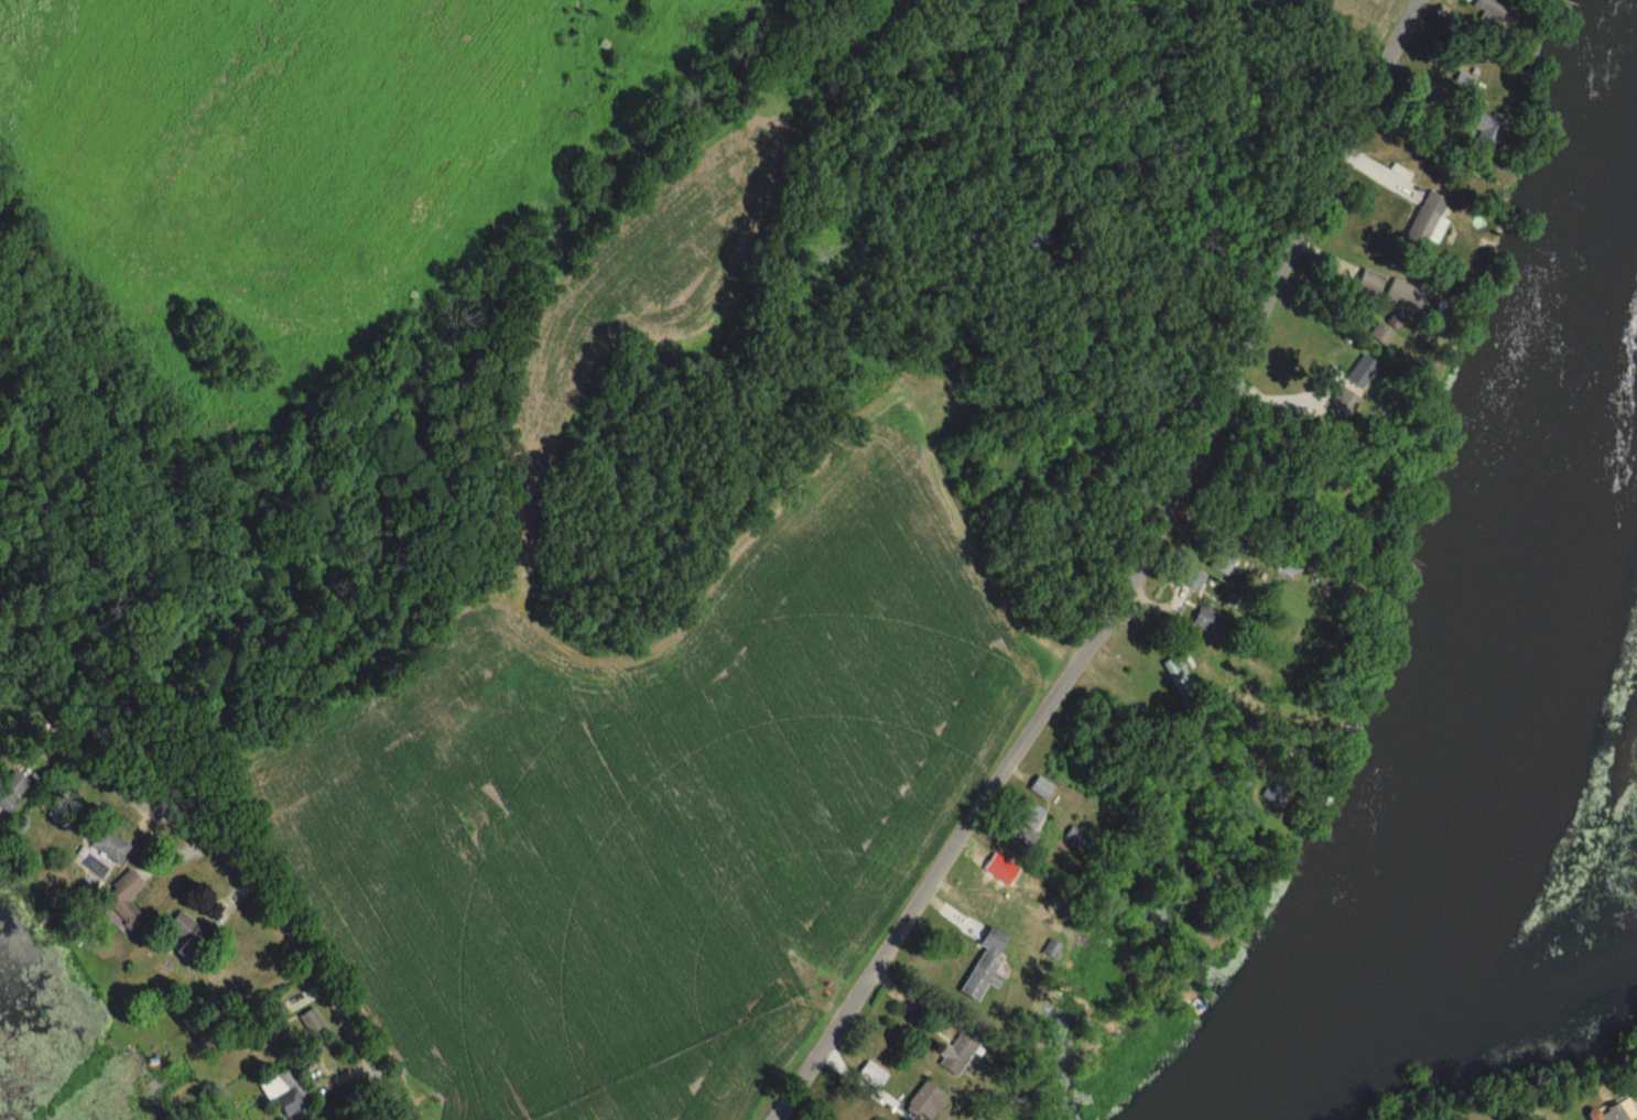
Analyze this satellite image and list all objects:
building: (1485, 133)
building: (1424, 221)
building: (1368, 282)
building: (1402, 295)
building: (1384, 330)
road: (1127, 578)
building: (1190, 579)
building: (1207, 621)
river: (1563, 706)
road: (119, 786)
building: (1038, 790)
building: (10, 792)
building: (1020, 823)
building: (108, 847)
building: (123, 902)
building: (180, 936)
road: (305, 960)
building: (984, 966)
building: (212, 976)
building: (311, 1023)
building: (265, 1030)
building: (957, 1052)
building: (871, 1075)
building: (283, 1088)
building: (924, 1100)

